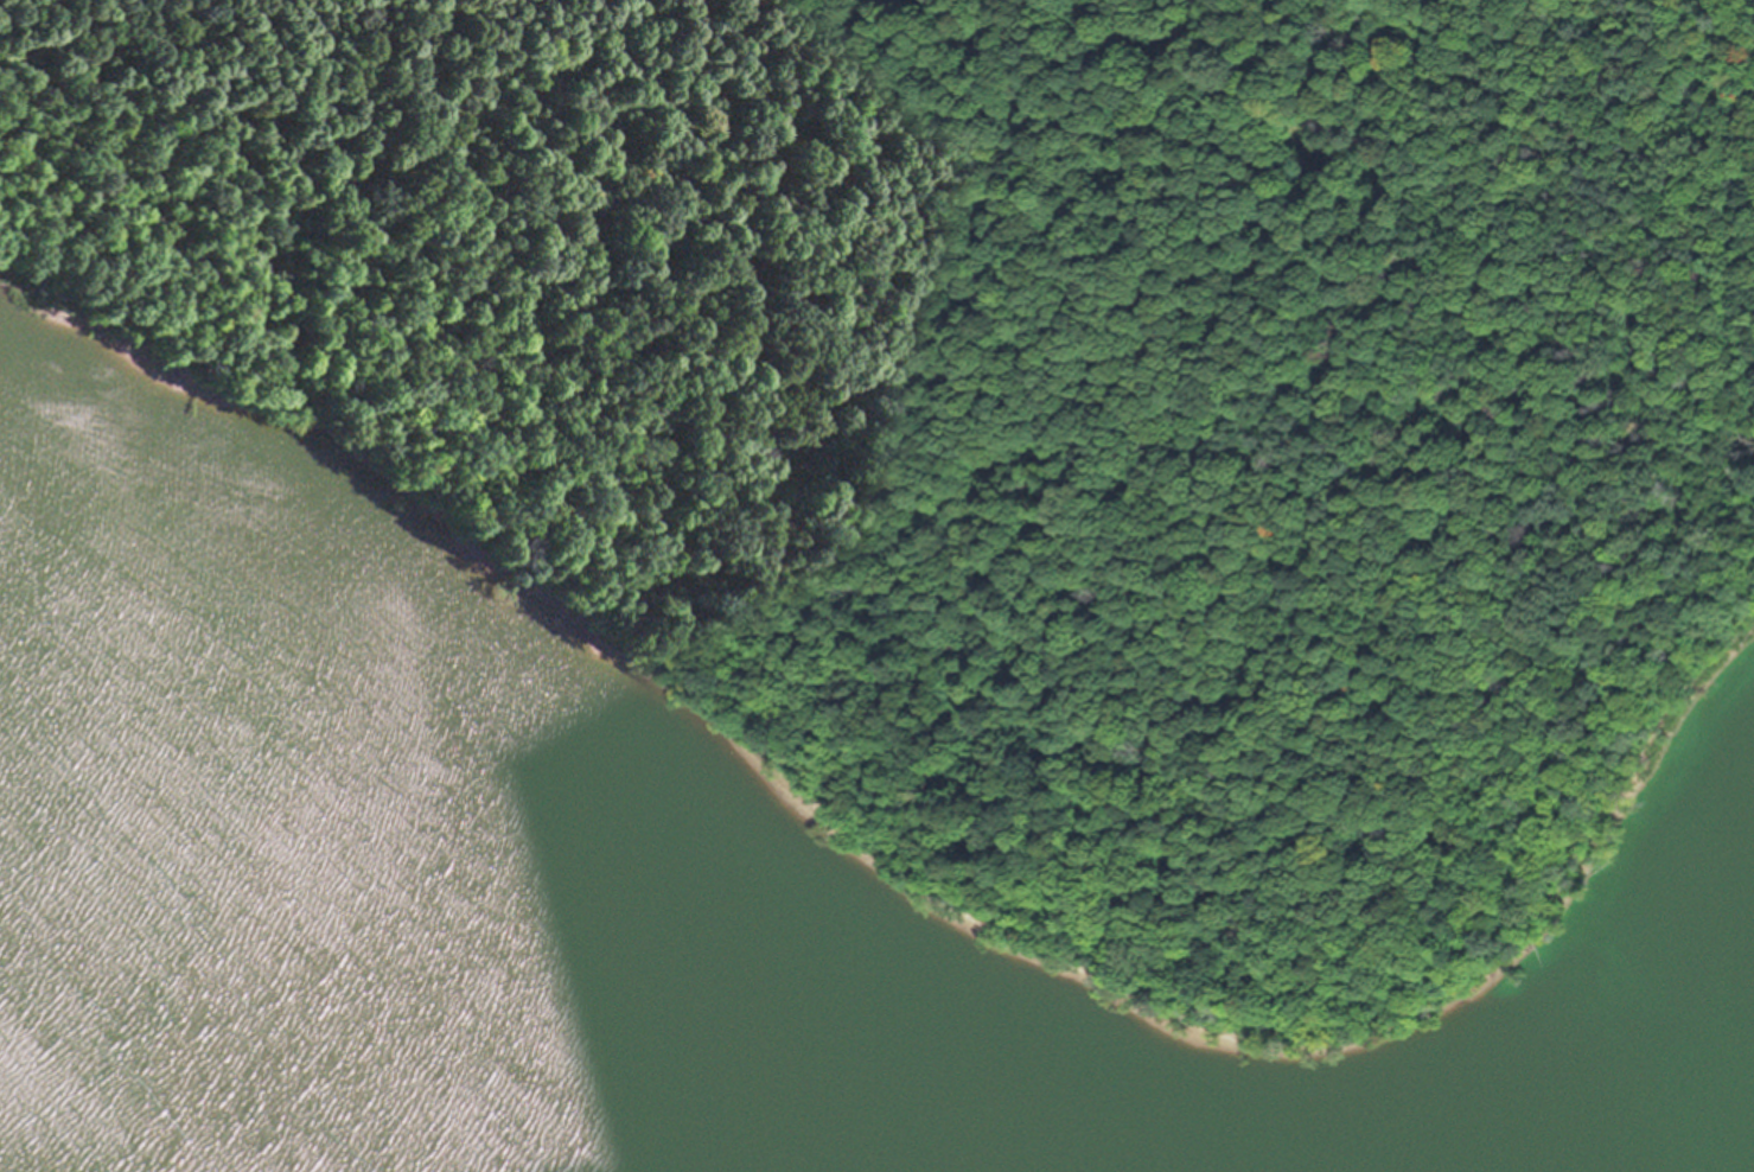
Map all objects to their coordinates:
river: (27, 1155)

